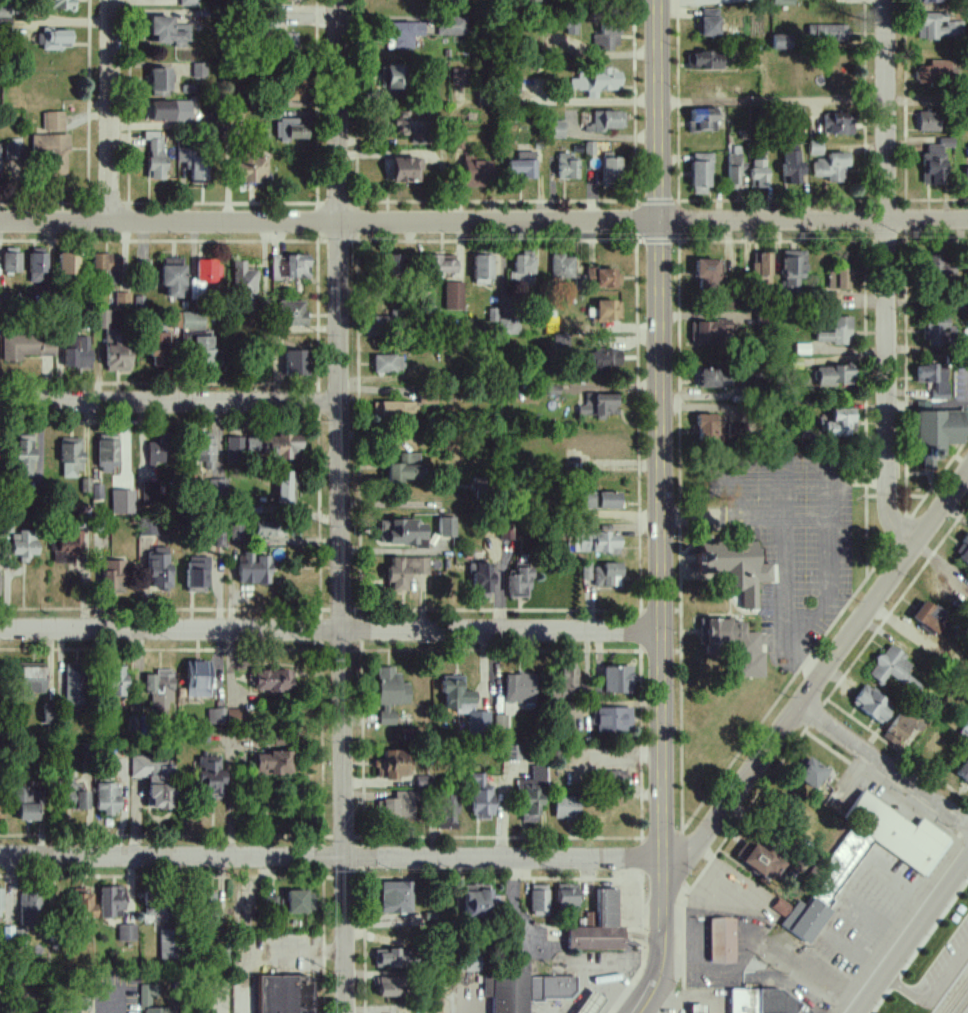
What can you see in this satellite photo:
building: (530, 1)
building: (930, 1)
building: (781, 2)
building: (187, 3)
building: (59, 4)
building: (709, 22)
building: (450, 25)
building: (570, 27)
building: (938, 27)
building: (167, 31)
building: (826, 33)
building: (401, 34)
building: (52, 38)
building: (606, 38)
building: (287, 42)
building: (780, 42)
building: (706, 60)
building: (198, 70)
building: (396, 76)
building: (159, 81)
building: (596, 82)
building: (512, 84)
building: (290, 91)
road: (771, 100)
road: (927, 101)
building: (166, 110)
road: (112, 111)
building: (702, 119)
building: (52, 120)
building: (605, 121)
building: (928, 121)
building: (837, 124)
building: (412, 125)
building: (556, 129)
building: (289, 130)
building: (589, 148)
building: (815, 148)
building: (12, 151)
building: (51, 152)
road: (423, 153)
building: (154, 154)
building: (935, 161)
building: (194, 162)
building: (522, 165)
building: (566, 167)
building: (791, 167)
building: (831, 167)
building: (248, 168)
building: (610, 169)
building: (405, 170)
building: (733, 171)
building: (476, 172)
building: (700, 173)
building: (758, 173)
building: (966, 176)
road: (813, 219)
road: (329, 223)
building: (11, 259)
building: (67, 263)
building: (393, 264)
building: (37, 265)
building: (441, 265)
building: (289, 266)
building: (562, 267)
building: (941, 267)
building: (106, 268)
building: (761, 268)
building: (792, 268)
building: (482, 269)
building: (522, 269)
building: (206, 271)
building: (967, 271)
building: (706, 273)
building: (172, 276)
road: (886, 277)
building: (604, 278)
building: (838, 279)
building: (243, 280)
building: (454, 296)
building: (121, 299)
building: (833, 300)
building: (728, 303)
building: (608, 311)
building: (292, 313)
building: (102, 319)
building: (192, 320)
building: (504, 323)
building: (377, 327)
building: (935, 331)
building: (709, 332)
building: (837, 332)
building: (26, 346)
building: (159, 349)
building: (802, 349)
building: (202, 351)
building: (76, 352)
building: (116, 353)
building: (604, 358)
building: (295, 363)
building: (388, 364)
building: (835, 376)
building: (710, 378)
building: (933, 379)
road: (171, 403)
building: (598, 405)
building: (394, 409)
building: (839, 422)
building: (710, 429)
building: (938, 433)
building: (242, 445)
building: (283, 447)
building: (159, 451)
building: (205, 452)
building: (23, 456)
building: (107, 456)
building: (71, 457)
building: (405, 468)
road: (812, 468)
building: (217, 486)
building: (283, 487)
building: (600, 500)
building: (122, 502)
road: (344, 506)
road: (660, 506)
road: (766, 508)
building: (147, 527)
building: (446, 527)
building: (269, 530)
building: (506, 531)
building: (402, 533)
building: (597, 543)
building: (23, 545)
building: (66, 548)
building: (962, 550)
road: (796, 564)
building: (159, 567)
building: (735, 568)
building: (253, 569)
building: (405, 571)
building: (585, 572)
building: (196, 574)
building: (607, 575)
building: (113, 576)
building: (481, 580)
building: (520, 582)
building: (930, 617)
road: (330, 629)
building: (736, 645)
road: (809, 646)
building: (893, 669)
road: (821, 676)
building: (31, 678)
building: (197, 679)
building: (272, 680)
building: (115, 681)
building: (614, 681)
building: (569, 682)
building: (71, 685)
building: (520, 688)
building: (159, 693)
building: (390, 694)
building: (462, 702)
building: (872, 704)
building: (47, 713)
building: (234, 715)
building: (215, 716)
building: (613, 720)
building: (898, 729)
building: (964, 731)
building: (272, 764)
building: (392, 765)
road: (884, 767)
building: (964, 772)
building: (810, 773)
building: (209, 776)
building: (615, 777)
building: (155, 781)
building: (423, 781)
building: (68, 791)
building: (25, 795)
building: (532, 796)
building: (107, 798)
building: (480, 798)
building: (82, 801)
building: (397, 807)
building: (566, 807)
building: (447, 811)
building: (27, 812)
building: (897, 832)
road: (331, 859)
building: (759, 861)
road: (898, 891)
building: (567, 897)
building: (395, 898)
building: (29, 900)
building: (539, 900)
building: (111, 901)
building: (271, 902)
building: (296, 903)
building: (479, 903)
building: (81, 904)
building: (781, 907)
building: (208, 908)
building: (156, 912)
building: (805, 920)
road: (830, 920)
road: (876, 922)
building: (599, 927)
parking lot: (859, 929)
building: (8, 933)
building: (127, 933)
road: (913, 936)
building: (718, 939)
building: (168, 944)
road: (851, 956)
building: (389, 958)
building: (469, 963)
parking lot: (938, 968)
road: (599, 982)
building: (387, 986)
building: (546, 987)
building: (505, 990)
road: (930, 991)
road: (822, 992)
building: (285, 994)
building: (146, 995)
railway: (957, 998)
building: (759, 1000)
building: (583, 1002)
railway: (963, 1006)
building: (694, 1007)
building: (156, 1010)
road: (640, 1010)
road: (561, 1011)

